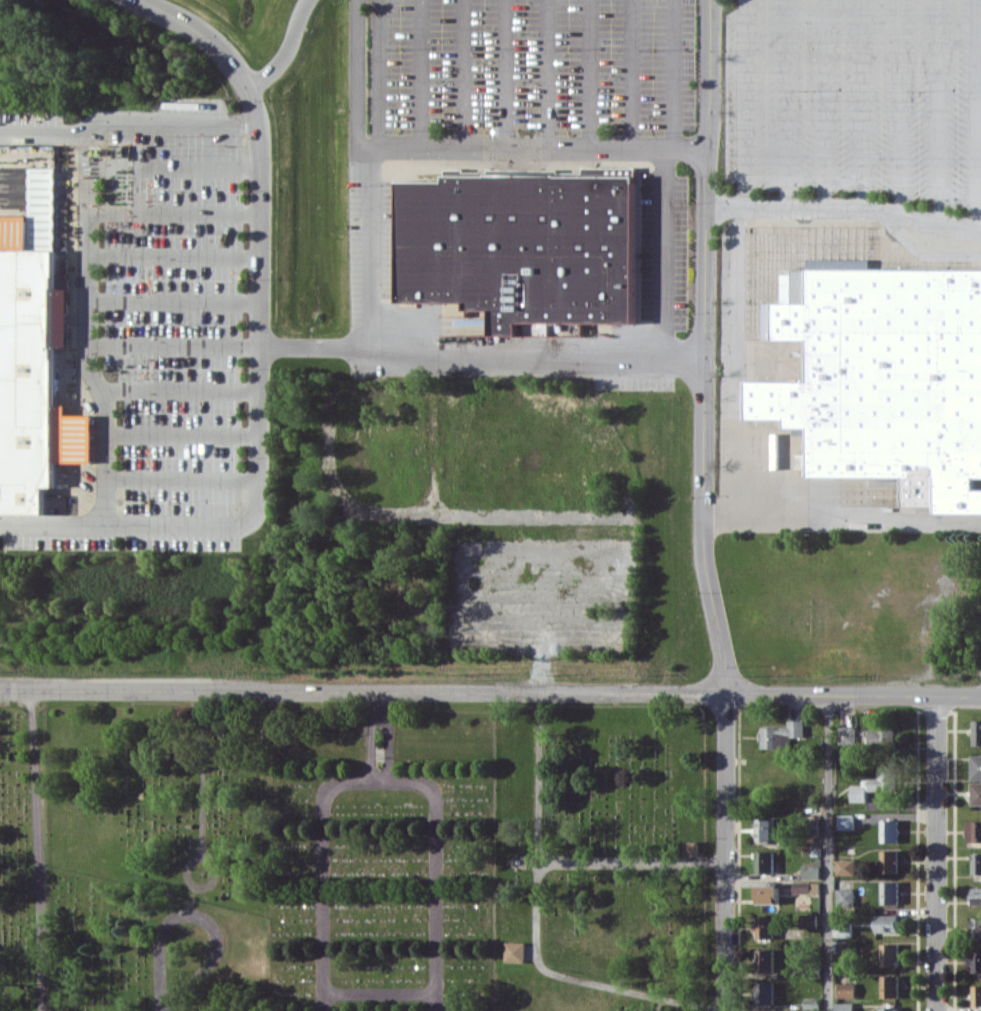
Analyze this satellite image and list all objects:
road: (205, 34)
road: (287, 51)
road: (359, 74)
road: (381, 74)
road: (421, 74)
road: (463, 74)
road: (505, 74)
road: (548, 74)
road: (591, 74)
road: (633, 74)
road: (674, 74)
road: (862, 103)
road: (747, 104)
road: (785, 104)
road: (825, 104)
road: (900, 107)
road: (938, 111)
road: (975, 115)
road: (127, 121)
road: (535, 149)
road: (175, 166)
road: (845, 207)
road: (175, 210)
building: (522, 246)
road: (373, 247)
road: (662, 249)
road: (175, 256)
road: (175, 299)
road: (88, 338)
road: (175, 345)
road: (318, 347)
road: (707, 347)
road: (541, 349)
building: (34, 356)
road: (737, 375)
building: (884, 377)
road: (260, 430)
road: (183, 434)
road: (107, 457)
road: (183, 479)
road: (859, 519)
road: (363, 690)
road: (854, 694)
building: (977, 732)
building: (847, 734)
building: (782, 735)
road: (371, 737)
road: (389, 737)
building: (880, 737)
building: (976, 766)
building: (874, 784)
building: (976, 793)
park: (162, 796)
road: (202, 818)
building: (846, 821)
building: (766, 829)
building: (890, 830)
building: (974, 831)
park: (601, 847)
building: (693, 847)
road: (38, 849)
road: (725, 851)
road: (829, 852)
road: (937, 853)
park: (22, 859)
park: (380, 860)
building: (890, 861)
road: (631, 862)
building: (766, 862)
building: (977, 863)
building: (846, 866)
road: (437, 867)
building: (812, 871)
road: (324, 877)
building: (807, 886)
building: (890, 892)
building: (768, 894)
building: (977, 895)
building: (846, 896)
road: (199, 916)
building: (809, 920)
road: (537, 922)
building: (887, 923)
building: (766, 927)
building: (976, 927)
building: (845, 929)
building: (845, 946)
park: (148, 949)
building: (515, 951)
building: (890, 954)
building: (766, 959)
building: (975, 961)
building: (890, 986)
building: (847, 990)
building: (766, 993)
road: (380, 994)
building: (976, 995)
park: (559, 996)
building: (812, 1003)
building: (845, 1006)
building: (890, 1008)
building: (626, 1010)

